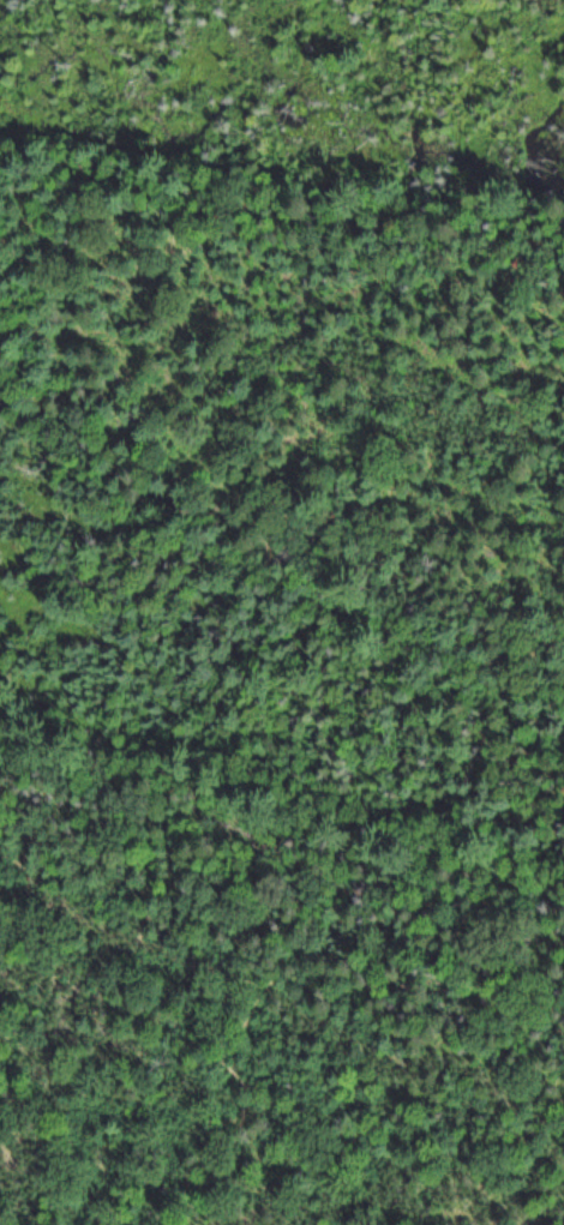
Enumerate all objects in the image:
road: (276, 975)

